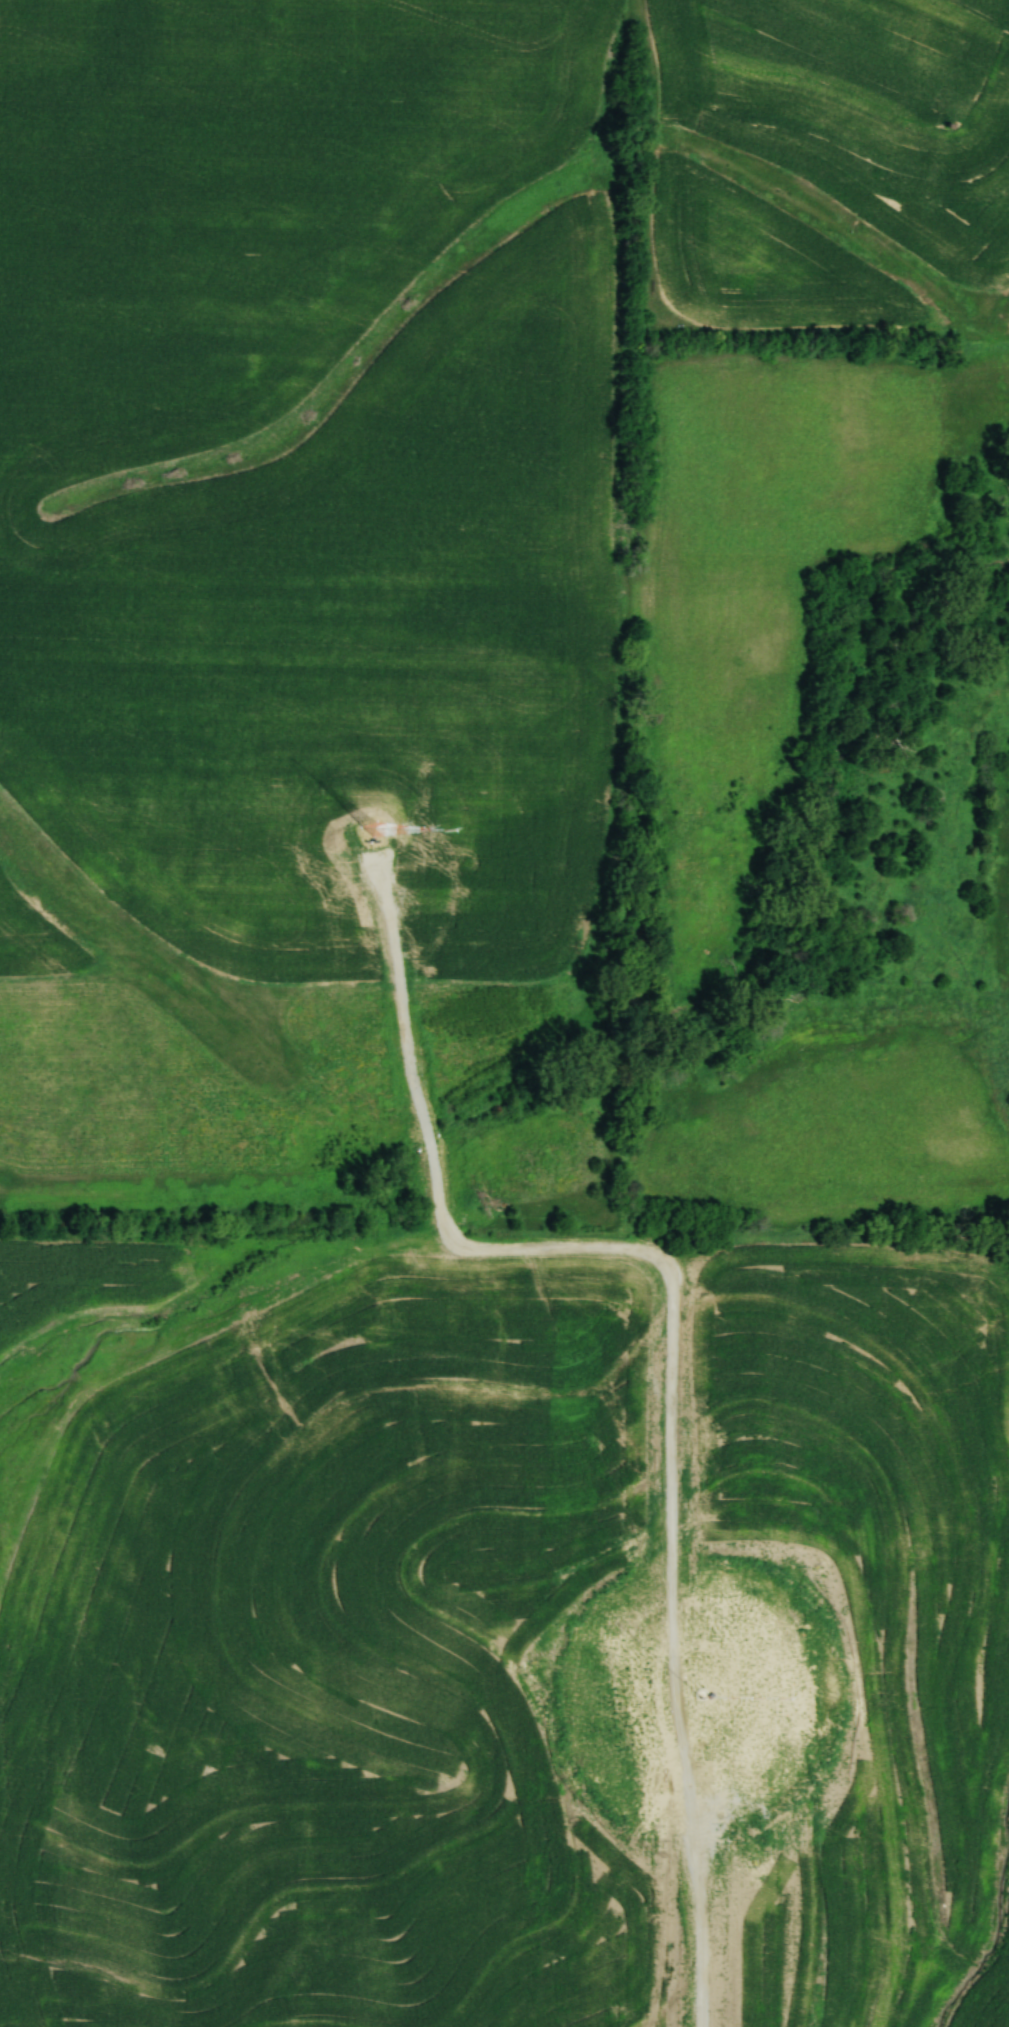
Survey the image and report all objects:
wind turbine: (705, 1697)

